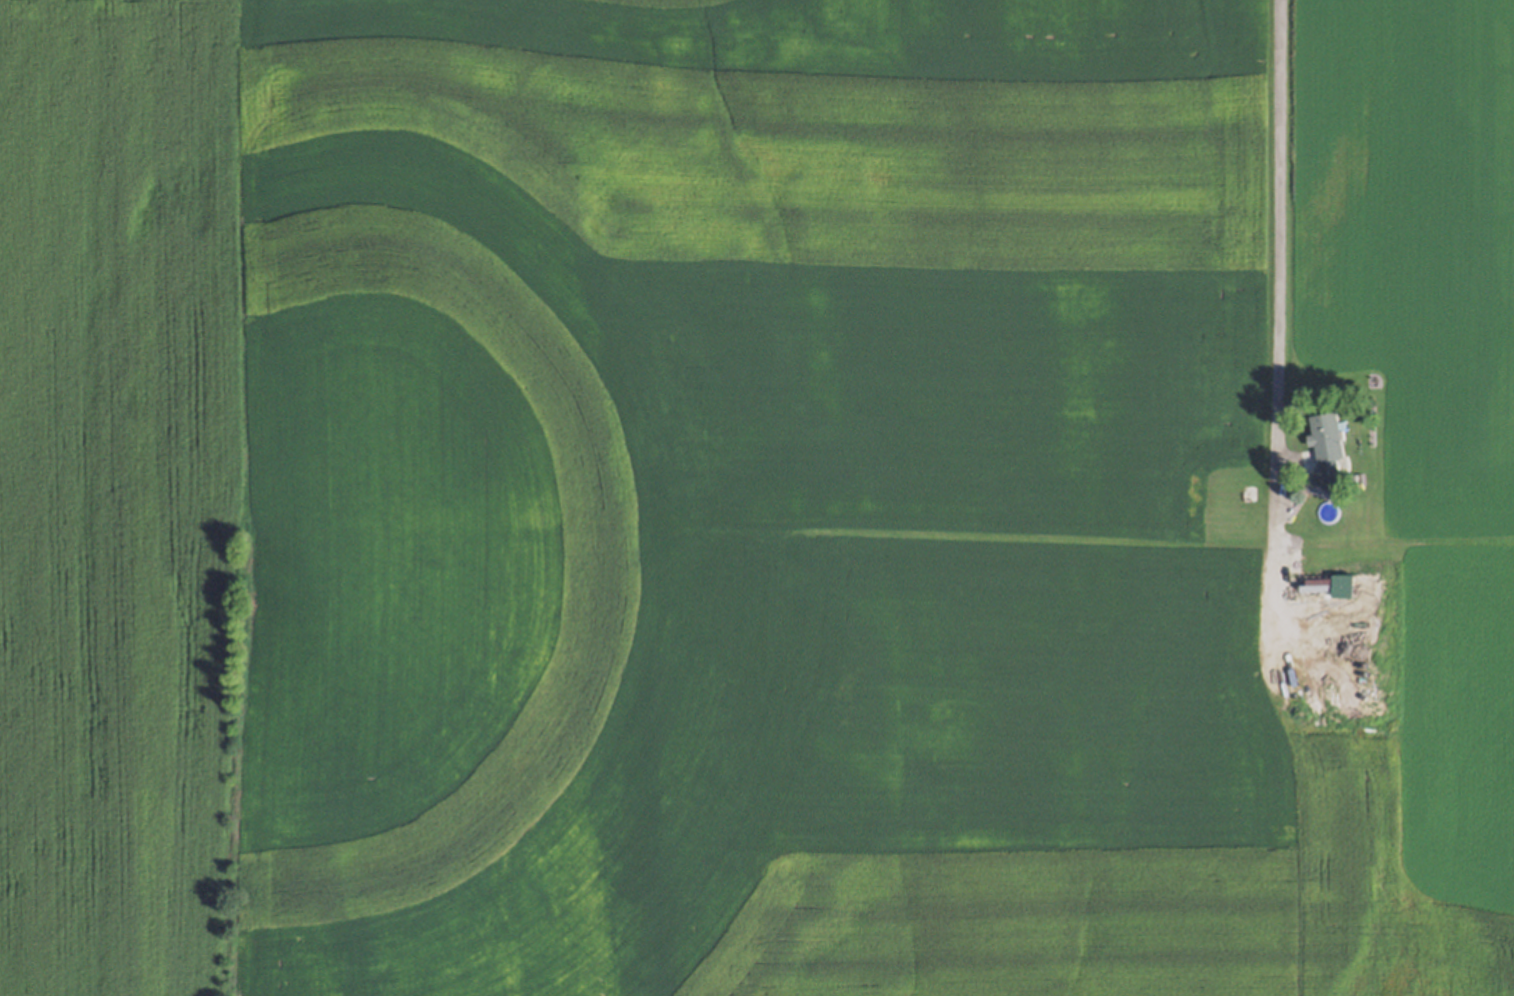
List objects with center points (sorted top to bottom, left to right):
road: (1278, 302)
building: (1327, 439)
building: (1319, 596)

